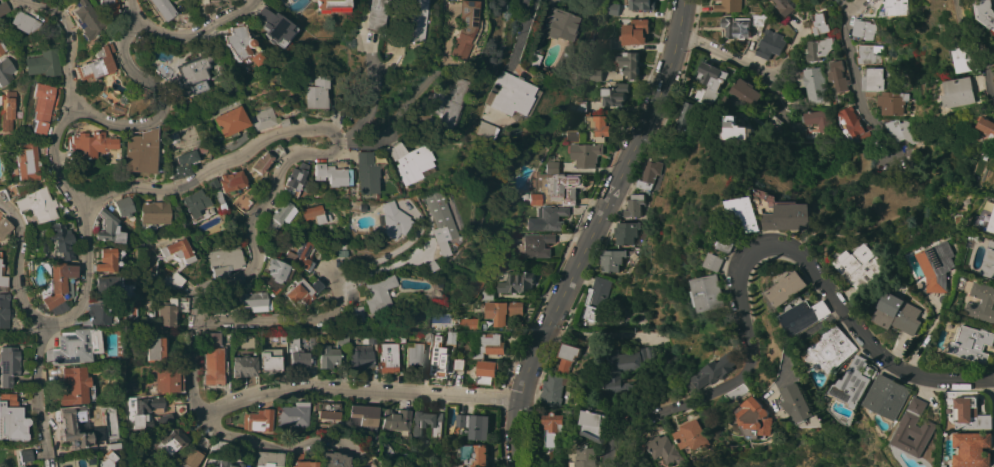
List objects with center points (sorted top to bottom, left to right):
building: (639, 4)
building: (331, 5)
road: (848, 5)
building: (729, 6)
building: (785, 6)
building: (872, 6)
building: (3, 7)
building: (897, 7)
building: (110, 8)
building: (161, 9)
building: (613, 9)
building: (988, 10)
road: (130, 11)
building: (376, 14)
building: (86, 18)
building: (759, 19)
building: (414, 20)
building: (24, 21)
building: (818, 24)
building: (560, 25)
building: (273, 26)
building: (736, 27)
building: (54, 28)
building: (862, 28)
building: (462, 29)
building: (635, 32)
road: (520, 33)
road: (69, 37)
building: (239, 42)
building: (603, 43)
building: (769, 44)
building: (393, 46)
road: (979, 47)
building: (2, 48)
building: (820, 50)
building: (870, 53)
building: (965, 57)
road: (126, 58)
building: (886, 61)
building: (43, 62)
road: (747, 63)
building: (96, 64)
building: (628, 64)
road: (852, 65)
building: (544, 70)
building: (6, 71)
building: (192, 73)
building: (839, 75)
building: (595, 76)
building: (874, 79)
building: (710, 82)
building: (813, 83)
building: (141, 92)
building: (747, 92)
building: (960, 92)
building: (317, 93)
building: (614, 94)
building: (872, 94)
building: (512, 97)
building: (728, 102)
building: (894, 102)
building: (445, 103)
road: (371, 104)
building: (580, 105)
building: (41, 108)
building: (117, 108)
building: (8, 110)
building: (684, 115)
building: (816, 116)
building: (266, 120)
building: (433, 120)
building: (230, 121)
building: (596, 124)
building: (852, 124)
building: (987, 127)
building: (485, 129)
building: (738, 129)
building: (899, 130)
building: (813, 133)
building: (92, 143)
road: (365, 146)
building: (518, 150)
building: (140, 151)
road: (306, 152)
building: (585, 154)
road: (57, 157)
building: (267, 158)
building: (27, 161)
building: (410, 162)
building: (182, 164)
building: (552, 167)
building: (366, 173)
building: (331, 174)
building: (649, 174)
building: (297, 177)
building: (231, 183)
building: (564, 188)
building: (11, 191)
building: (535, 199)
building: (195, 202)
building: (243, 204)
building: (633, 205)
building: (37, 206)
building: (124, 206)
building: (153, 213)
building: (314, 214)
building: (280, 215)
building: (746, 215)
building: (788, 215)
building: (550, 217)
building: (393, 220)
building: (440, 222)
building: (992, 223)
building: (4, 227)
building: (109, 228)
road: (590, 232)
building: (629, 233)
building: (61, 241)
building: (728, 243)
building: (537, 245)
building: (341, 247)
building: (177, 250)
road: (750, 251)
building: (301, 253)
road: (385, 253)
building: (0, 255)
building: (108, 259)
building: (616, 259)
building: (224, 260)
building: (717, 262)
building: (989, 262)
road: (16, 266)
road: (384, 266)
building: (937, 266)
building: (860, 267)
building: (278, 270)
building: (2, 277)
building: (175, 281)
building: (517, 282)
building: (58, 283)
building: (108, 284)
building: (477, 284)
building: (785, 289)
building: (130, 290)
building: (302, 292)
building: (711, 292)
building: (379, 293)
building: (597, 300)
building: (255, 301)
building: (981, 302)
building: (130, 305)
building: (220, 305)
building: (503, 308)
building: (4, 309)
building: (171, 309)
building: (99, 312)
building: (354, 313)
building: (896, 313)
building: (803, 315)
building: (469, 324)
road: (289, 325)
road: (46, 326)
building: (456, 327)
building: (369, 337)
building: (400, 337)
building: (451, 337)
road: (598, 337)
building: (282, 338)
building: (342, 338)
building: (313, 339)
building: (970, 343)
building: (488, 344)
building: (74, 346)
building: (154, 348)
building: (831, 349)
building: (416, 351)
building: (298, 354)
building: (328, 355)
building: (360, 356)
building: (388, 357)
building: (566, 357)
building: (270, 358)
building: (214, 360)
building: (439, 361)
building: (8, 364)
building: (458, 364)
building: (244, 365)
building: (627, 367)
building: (718, 369)
building: (487, 371)
building: (169, 379)
building: (852, 382)
building: (130, 384)
building: (77, 386)
road: (358, 389)
building: (553, 389)
building: (739, 392)
building: (887, 396)
building: (798, 403)
building: (142, 409)
building: (179, 409)
building: (327, 410)
building: (971, 411)
building: (293, 414)
building: (365, 415)
building: (757, 416)
building: (11, 419)
building: (258, 420)
building: (396, 420)
building: (426, 423)
building: (599, 424)
building: (68, 426)
building: (471, 427)
building: (552, 427)
building: (661, 428)
building: (914, 429)
building: (699, 435)
building: (166, 440)
building: (203, 442)
road: (277, 448)
building: (672, 448)
building: (973, 449)
building: (475, 454)
building: (25, 455)
building: (110, 456)
building: (591, 457)
building: (188, 458)
building: (269, 459)
building: (331, 460)
building: (304, 461)
building: (228, 464)
building: (366, 464)
building: (456, 465)
building: (28, 466)

